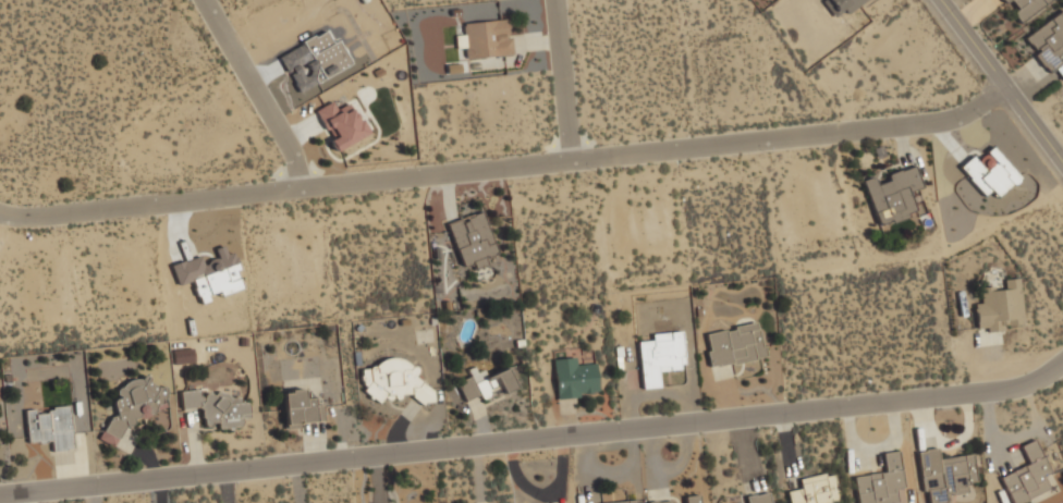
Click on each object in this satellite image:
building: (1004, 1)
building: (840, 5)
building: (1026, 8)
building: (485, 37)
building: (1048, 41)
road: (563, 81)
road: (1001, 82)
road: (257, 93)
building: (340, 123)
road: (506, 168)
building: (989, 171)
building: (893, 194)
building: (473, 238)
building: (1000, 306)
building: (733, 343)
building: (660, 355)
building: (574, 377)
building: (394, 379)
building: (485, 382)
building: (132, 404)
building: (217, 406)
building: (301, 407)
building: (50, 425)
road: (535, 439)
building: (944, 474)
building: (1026, 475)
building: (880, 481)
building: (810, 490)
building: (692, 498)
building: (757, 498)
building: (622, 501)
building: (660, 501)

